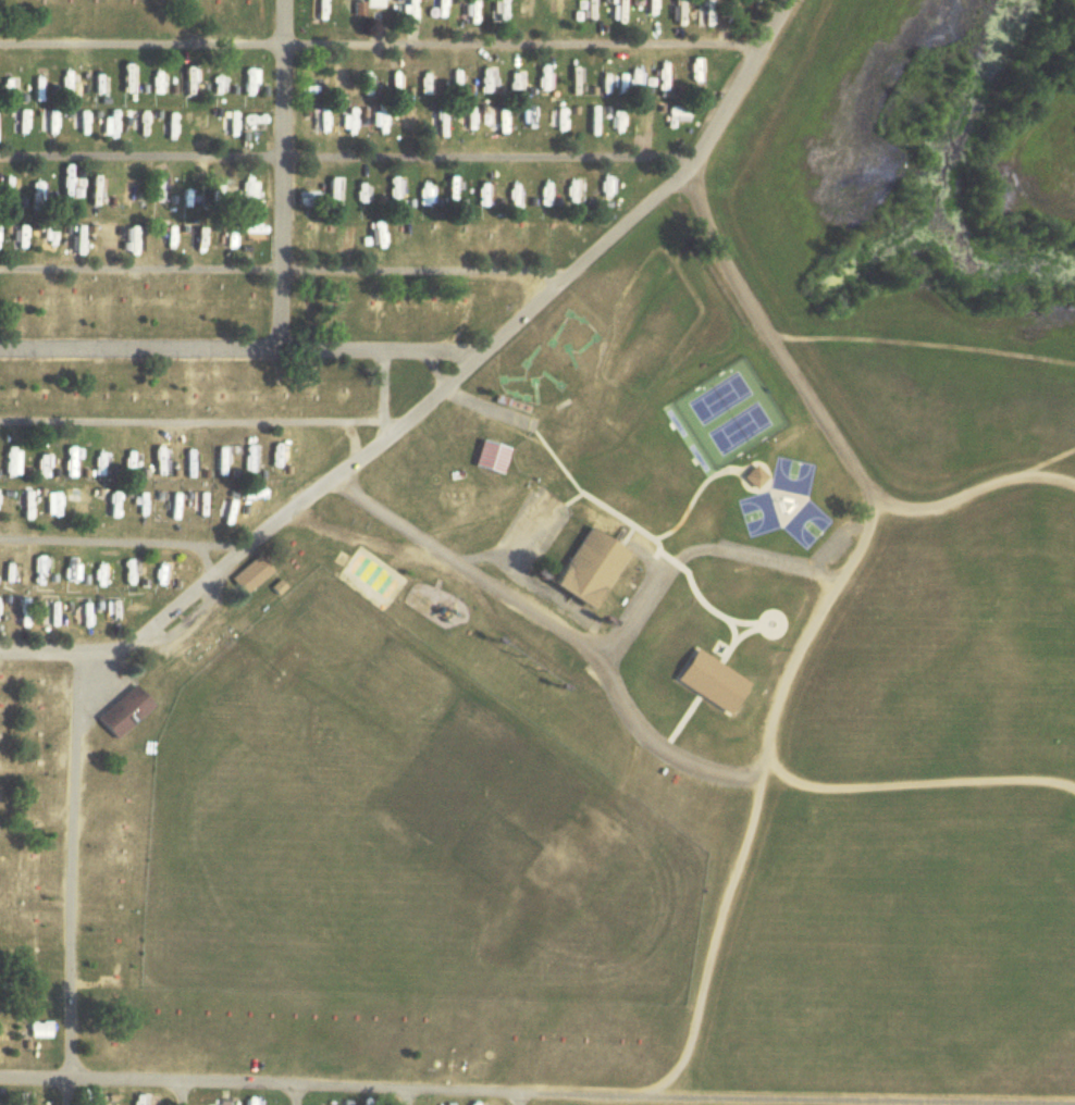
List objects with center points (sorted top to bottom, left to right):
building: (374, 3)
building: (401, 3)
building: (491, 4)
building: (518, 4)
building: (254, 8)
road: (381, 44)
building: (336, 79)
building: (556, 109)
building: (642, 109)
building: (374, 121)
road: (345, 157)
road: (277, 174)
building: (604, 183)
building: (483, 185)
building: (188, 188)
building: (246, 195)
building: (311, 233)
building: (370, 233)
road: (281, 270)
building: (49, 301)
building: (394, 301)
building: (437, 308)
road: (237, 348)
park: (720, 378)
road: (384, 385)
road: (438, 393)
building: (158, 394)
road: (482, 406)
park: (740, 409)
road: (198, 421)
road: (696, 422)
road: (827, 424)
road: (355, 439)
building: (485, 457)
park: (791, 457)
building: (276, 458)
building: (755, 458)
road: (692, 493)
park: (758, 495)
road: (597, 498)
building: (110, 504)
park: (807, 504)
road: (123, 542)
road: (206, 559)
building: (69, 569)
building: (593, 569)
building: (37, 571)
building: (159, 573)
building: (249, 574)
building: (133, 608)
road: (632, 611)
building: (50, 612)
building: (109, 612)
road: (762, 613)
building: (84, 614)
road: (744, 618)
road: (554, 620)
road: (744, 629)
road: (715, 657)
building: (714, 679)
building: (121, 712)
road: (73, 879)
building: (1, 928)
building: (103, 984)
building: (1, 1033)
building: (113, 1033)
building: (111, 1057)
road: (537, 1089)
road: (176, 1093)
road: (293, 1094)
road: (404, 1095)
road: (517, 1096)
building: (137, 1098)
building: (244, 1102)
building: (364, 1103)

